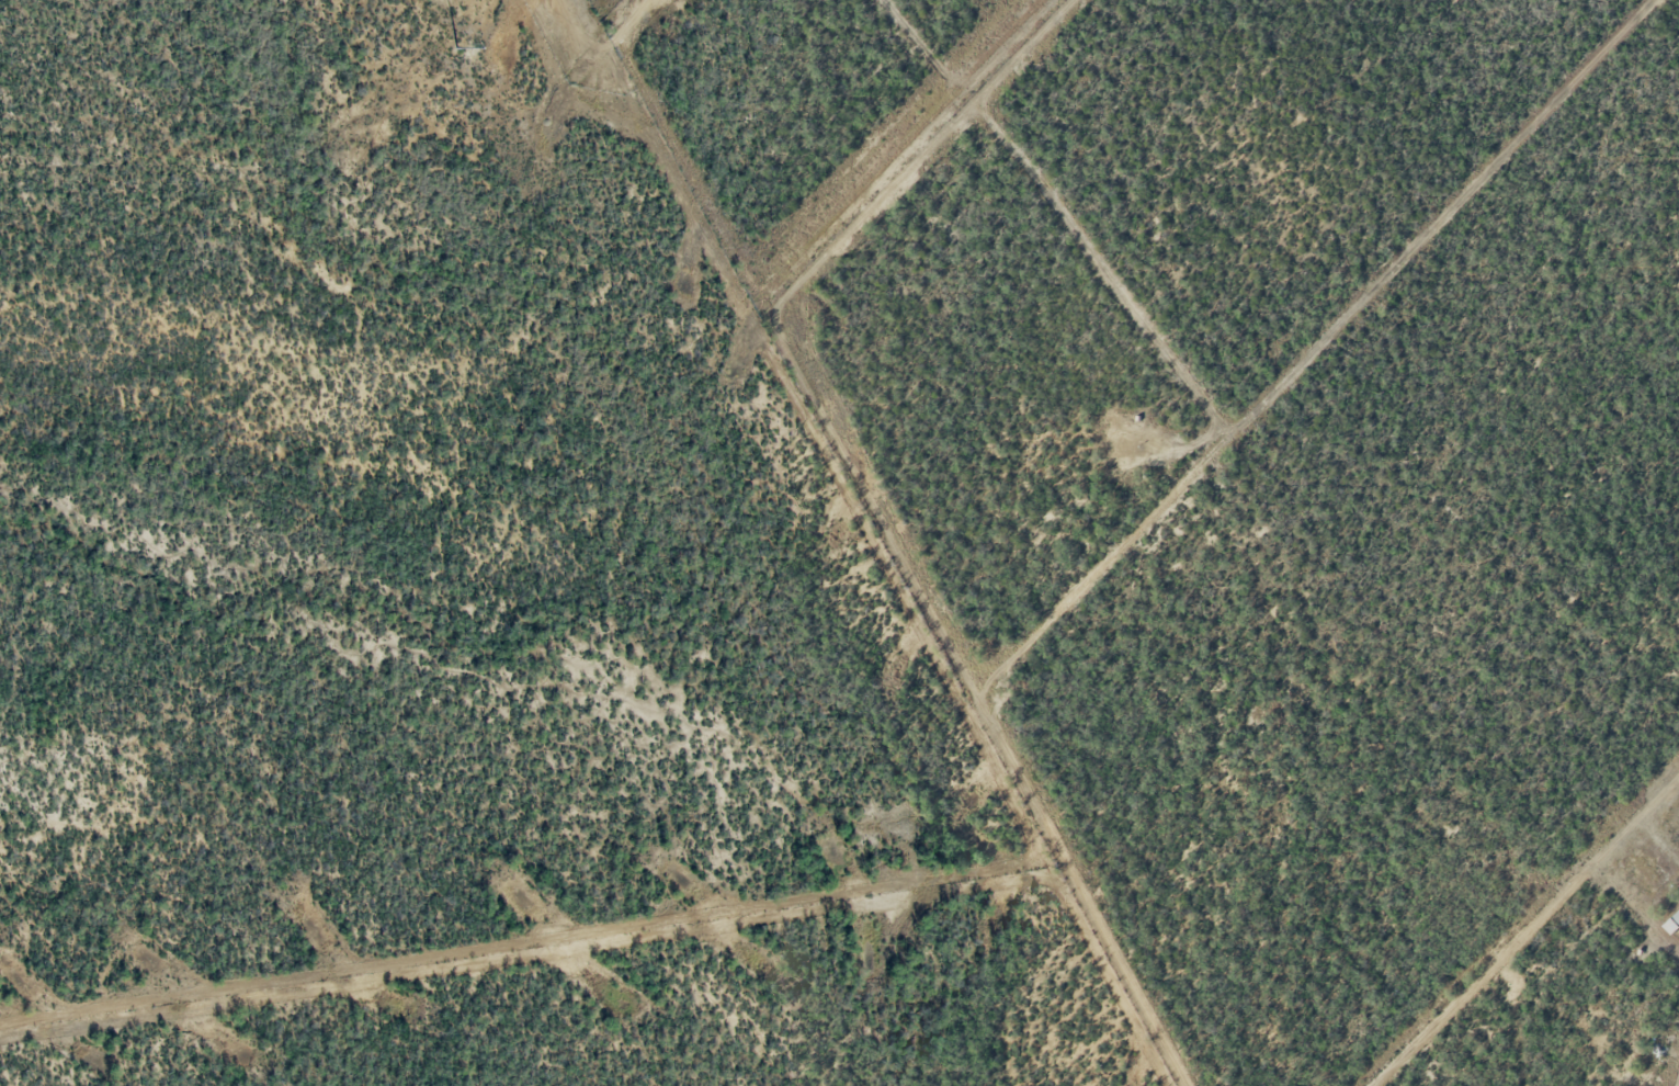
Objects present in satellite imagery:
power tower: (454, 46)
building: (1677, 917)

